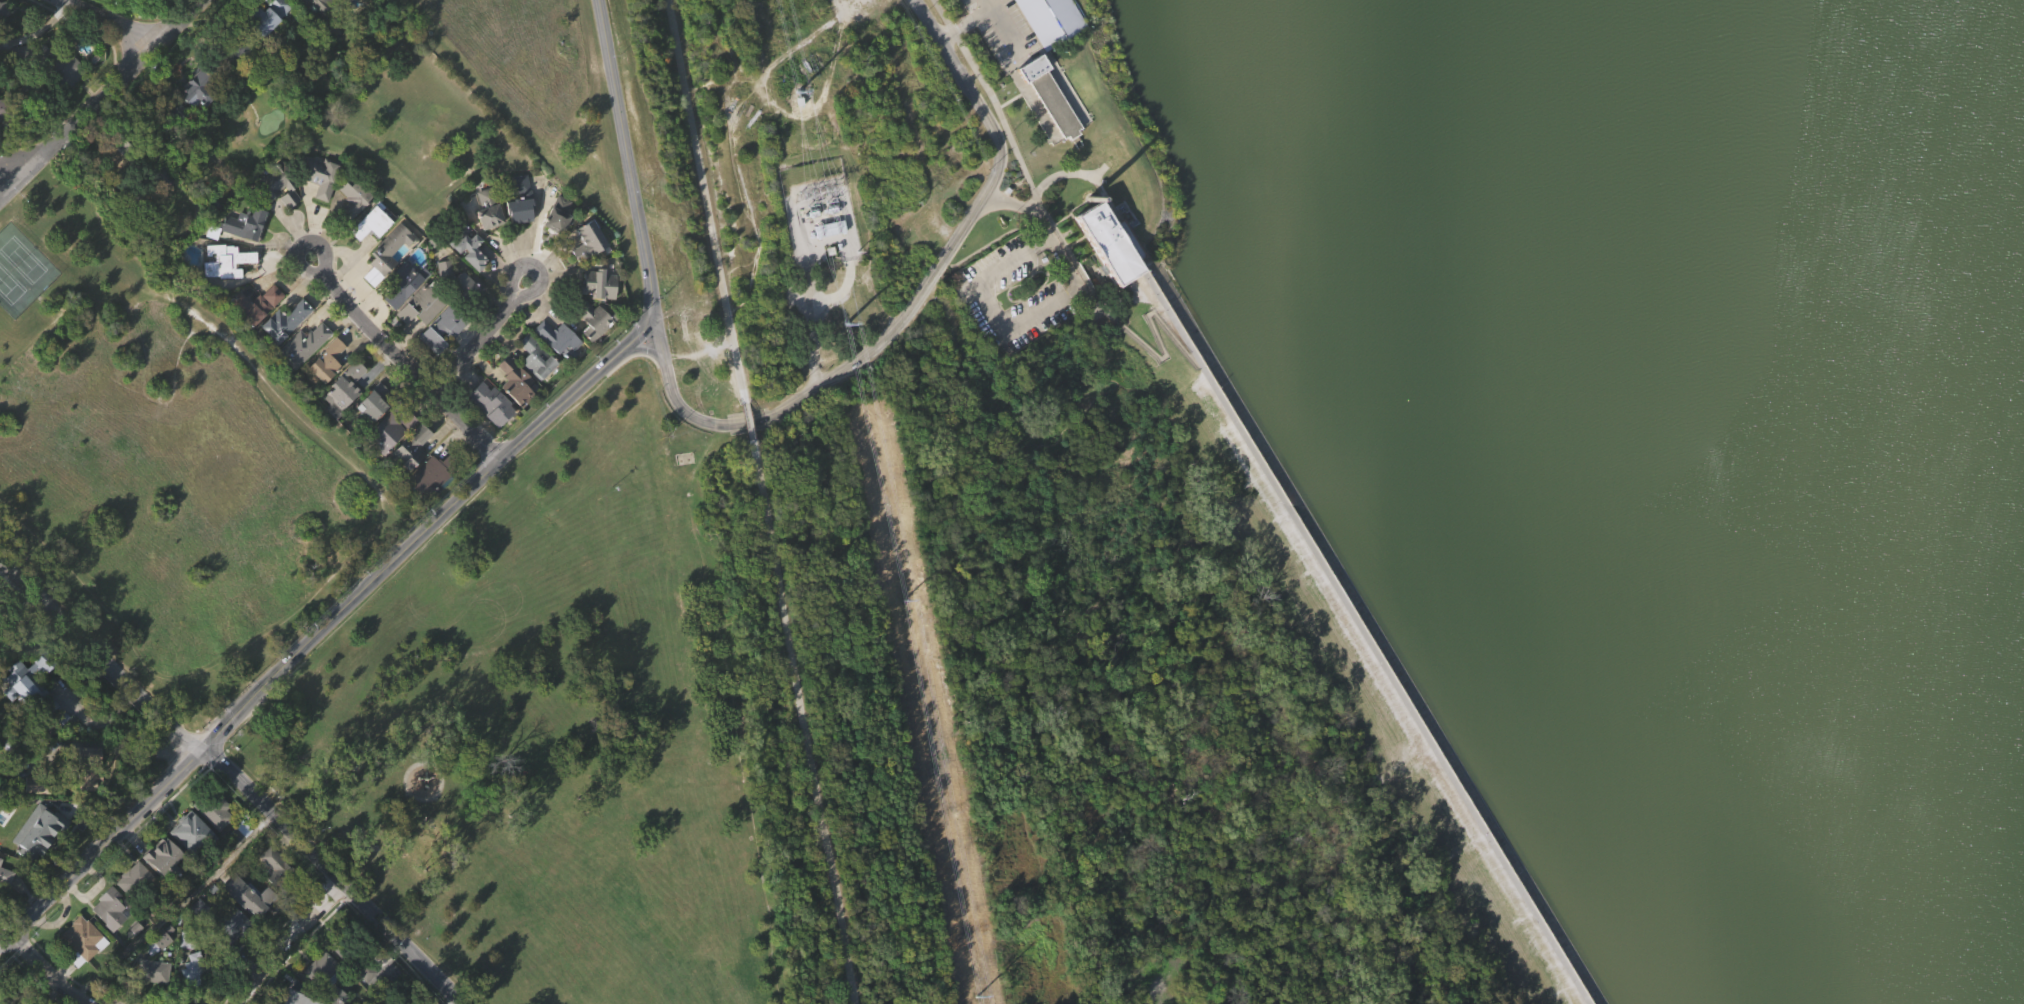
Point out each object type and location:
building: (131, 1)
building: (158, 7)
building: (4, 8)
building: (325, 10)
building: (266, 17)
building: (1051, 20)
road: (970, 22)
road: (103, 23)
parking lot: (1003, 30)
road: (38, 33)
building: (4, 36)
building: (270, 42)
building: (241, 52)
building: (58, 67)
building: (236, 80)
building: (22, 82)
building: (32, 89)
building: (191, 94)
building: (68, 98)
building: (1047, 98)
road: (102, 99)
power tower: (795, 101)
building: (1, 108)
building: (197, 118)
building: (1053, 126)
road: (22, 154)
building: (148, 167)
road: (629, 169)
building: (319, 175)
road: (739, 175)
road: (1056, 177)
power tower: (817, 184)
building: (277, 186)
building: (352, 196)
building: (520, 201)
road: (706, 201)
building: (161, 203)
building: (320, 203)
building: (486, 208)
building: (279, 215)
building: (557, 216)
building: (369, 222)
power substation: (823, 224)
building: (244, 225)
building: (354, 225)
building: (521, 229)
road: (531, 230)
building: (489, 239)
building: (587, 240)
building: (559, 243)
building: (464, 244)
building: (1104, 244)
building: (246, 252)
building: (385, 253)
road: (1060, 253)
road: (1018, 257)
park: (22, 259)
building: (224, 262)
building: (588, 269)
building: (1110, 276)
building: (390, 279)
building: (471, 279)
building: (597, 283)
building: (400, 284)
parking lot: (979, 285)
park: (9, 286)
building: (462, 286)
building: (229, 293)
building: (446, 298)
building: (421, 304)
building: (255, 305)
road: (914, 307)
building: (405, 312)
building: (465, 316)
road: (808, 316)
building: (593, 319)
power tower: (849, 322)
building: (283, 323)
road: (1009, 325)
building: (441, 330)
building: (257, 333)
building: (422, 334)
building: (557, 338)
road: (484, 339)
building: (303, 343)
building: (594, 348)
building: (533, 356)
building: (442, 357)
road: (407, 359)
building: (324, 361)
building: (559, 367)
building: (304, 373)
building: (514, 381)
building: (537, 386)
building: (344, 387)
building: (327, 389)
building: (371, 405)
building: (489, 405)
building: (516, 409)
building: (345, 414)
road: (747, 423)
building: (390, 427)
building: (491, 432)
road: (1243, 449)
building: (410, 450)
park: (166, 455)
building: (393, 458)
building: (411, 475)
building: (431, 475)
building: (428, 505)
park: (1228, 516)
road: (422, 537)
power tower: (891, 595)
road: (17, 609)
road: (99, 657)
building: (34, 693)
building: (22, 712)
road: (802, 723)
building: (56, 741)
building: (87, 767)
building: (36, 784)
building: (90, 807)
building: (214, 811)
building: (33, 829)
building: (191, 833)
building: (237, 834)
building: (217, 841)
road: (101, 849)
building: (0, 859)
building: (39, 860)
building: (192, 860)
building: (272, 860)
building: (162, 861)
road: (335, 875)
building: (5, 876)
building: (133, 880)
building: (164, 885)
building: (274, 890)
building: (257, 898)
building: (2, 901)
building: (109, 907)
building: (134, 907)
road: (174, 908)
building: (246, 923)
building: (232, 926)
building: (83, 935)
building: (113, 936)
building: (158, 941)
road: (293, 941)
building: (232, 952)
building: (350, 960)
building: (84, 966)
road: (42, 967)
building: (151, 971)
building: (192, 971)
building: (323, 978)
building: (153, 996)
power tower: (968, 997)
building: (290, 1000)

